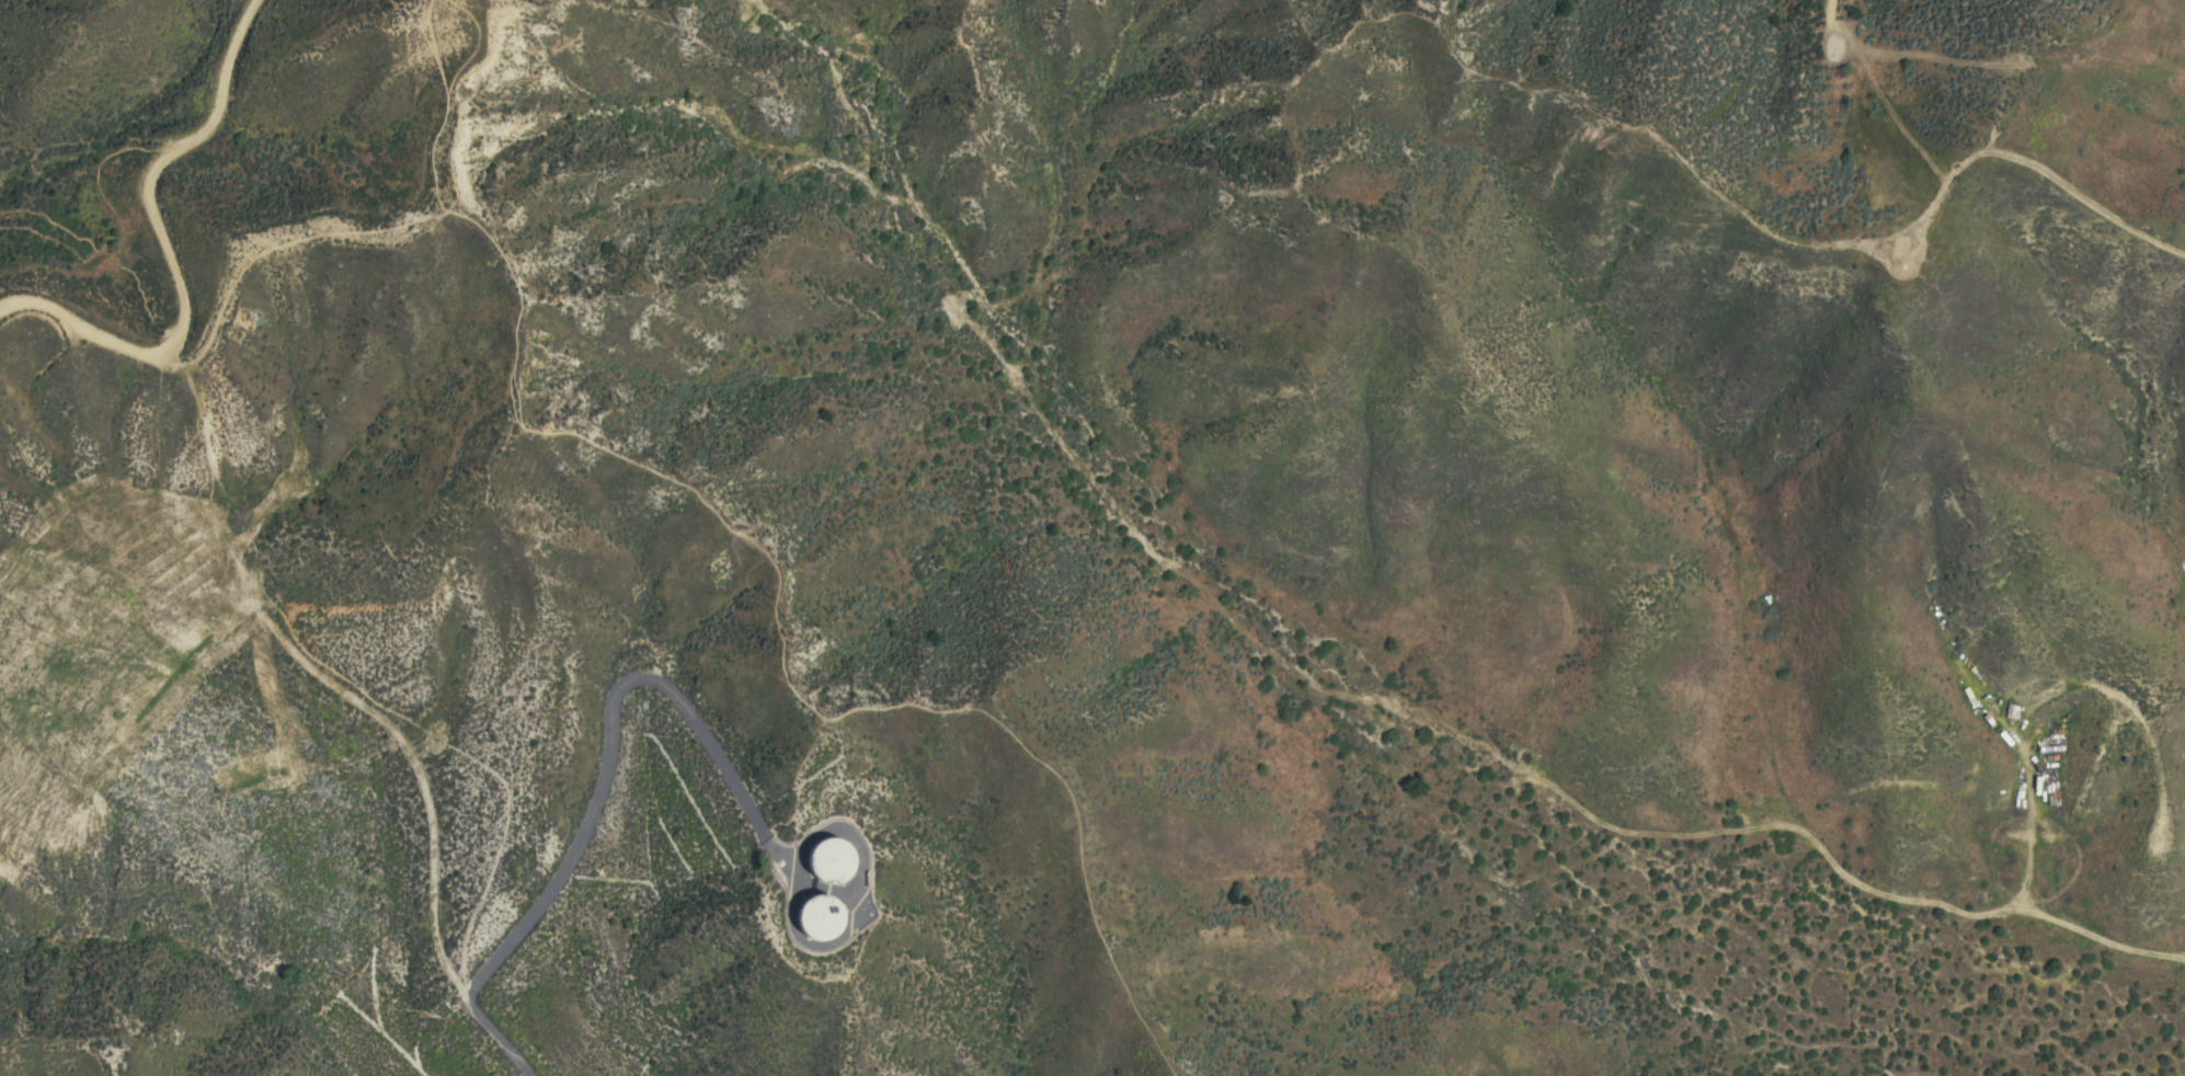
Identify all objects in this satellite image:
road: (118, 230)
road: (163, 245)
road: (263, 254)
road: (765, 562)
road: (700, 614)
road: (339, 675)
road: (607, 772)
road: (792, 783)
building: (830, 861)
road: (2027, 901)
building: (819, 919)
road: (848, 930)

